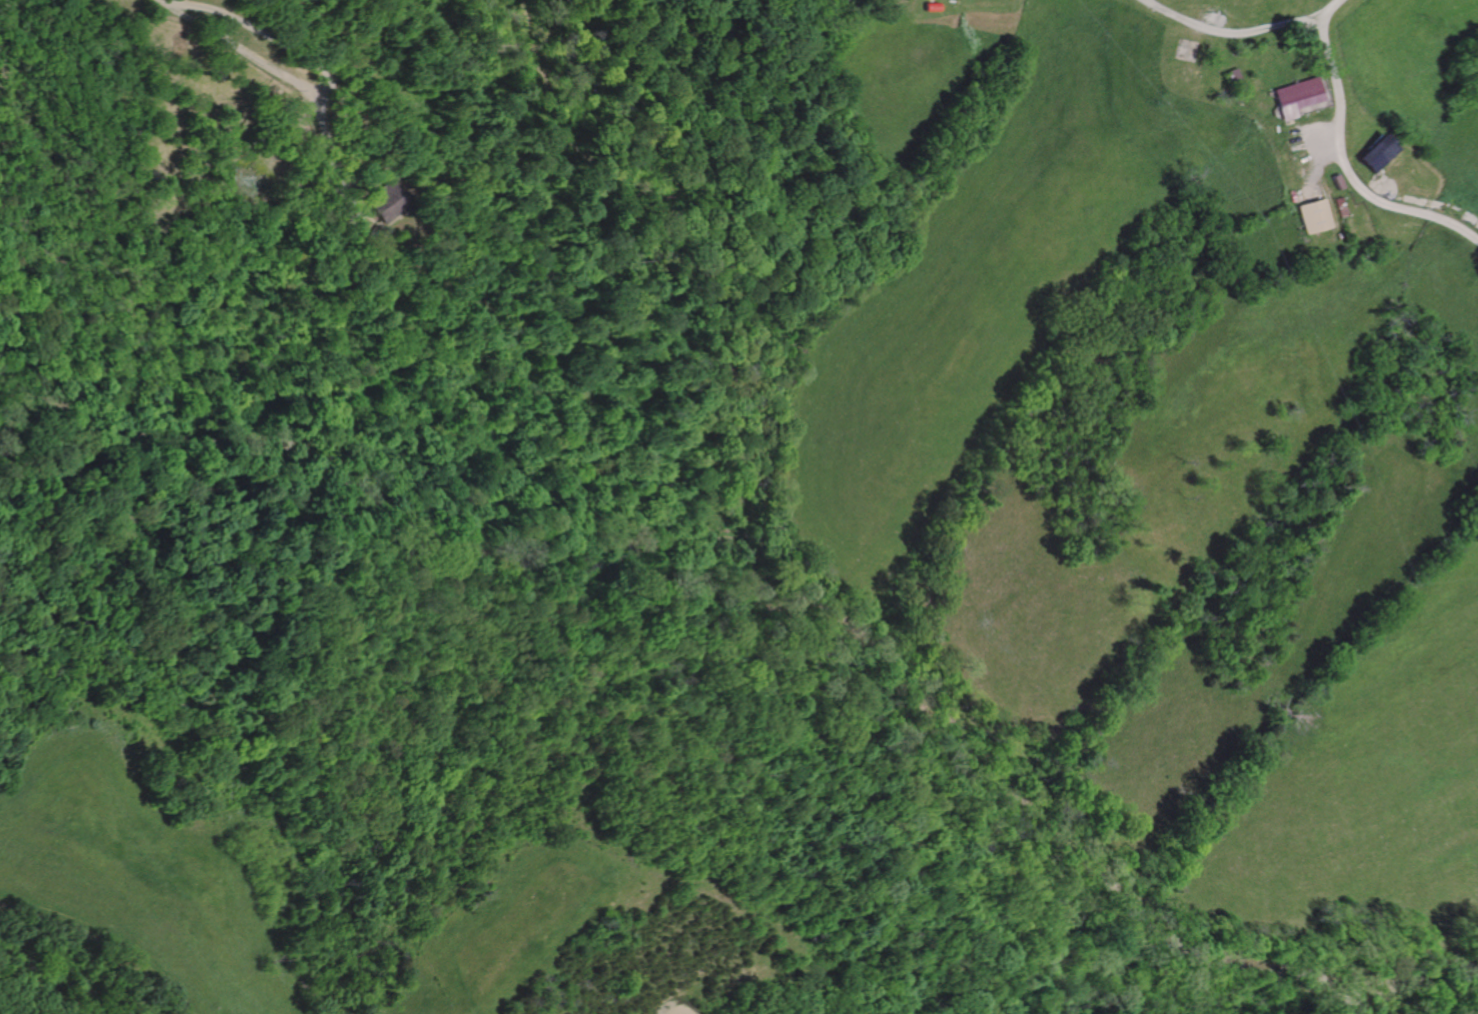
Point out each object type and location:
building: (933, 7)
road: (257, 32)
road: (1227, 33)
building: (1229, 74)
road: (285, 79)
building: (1293, 96)
road: (1320, 133)
building: (1376, 153)
road: (1341, 156)
road: (1313, 165)
building: (1336, 181)
road: (360, 190)
building: (383, 200)
building: (1341, 206)
building: (1314, 217)
road: (107, 936)

